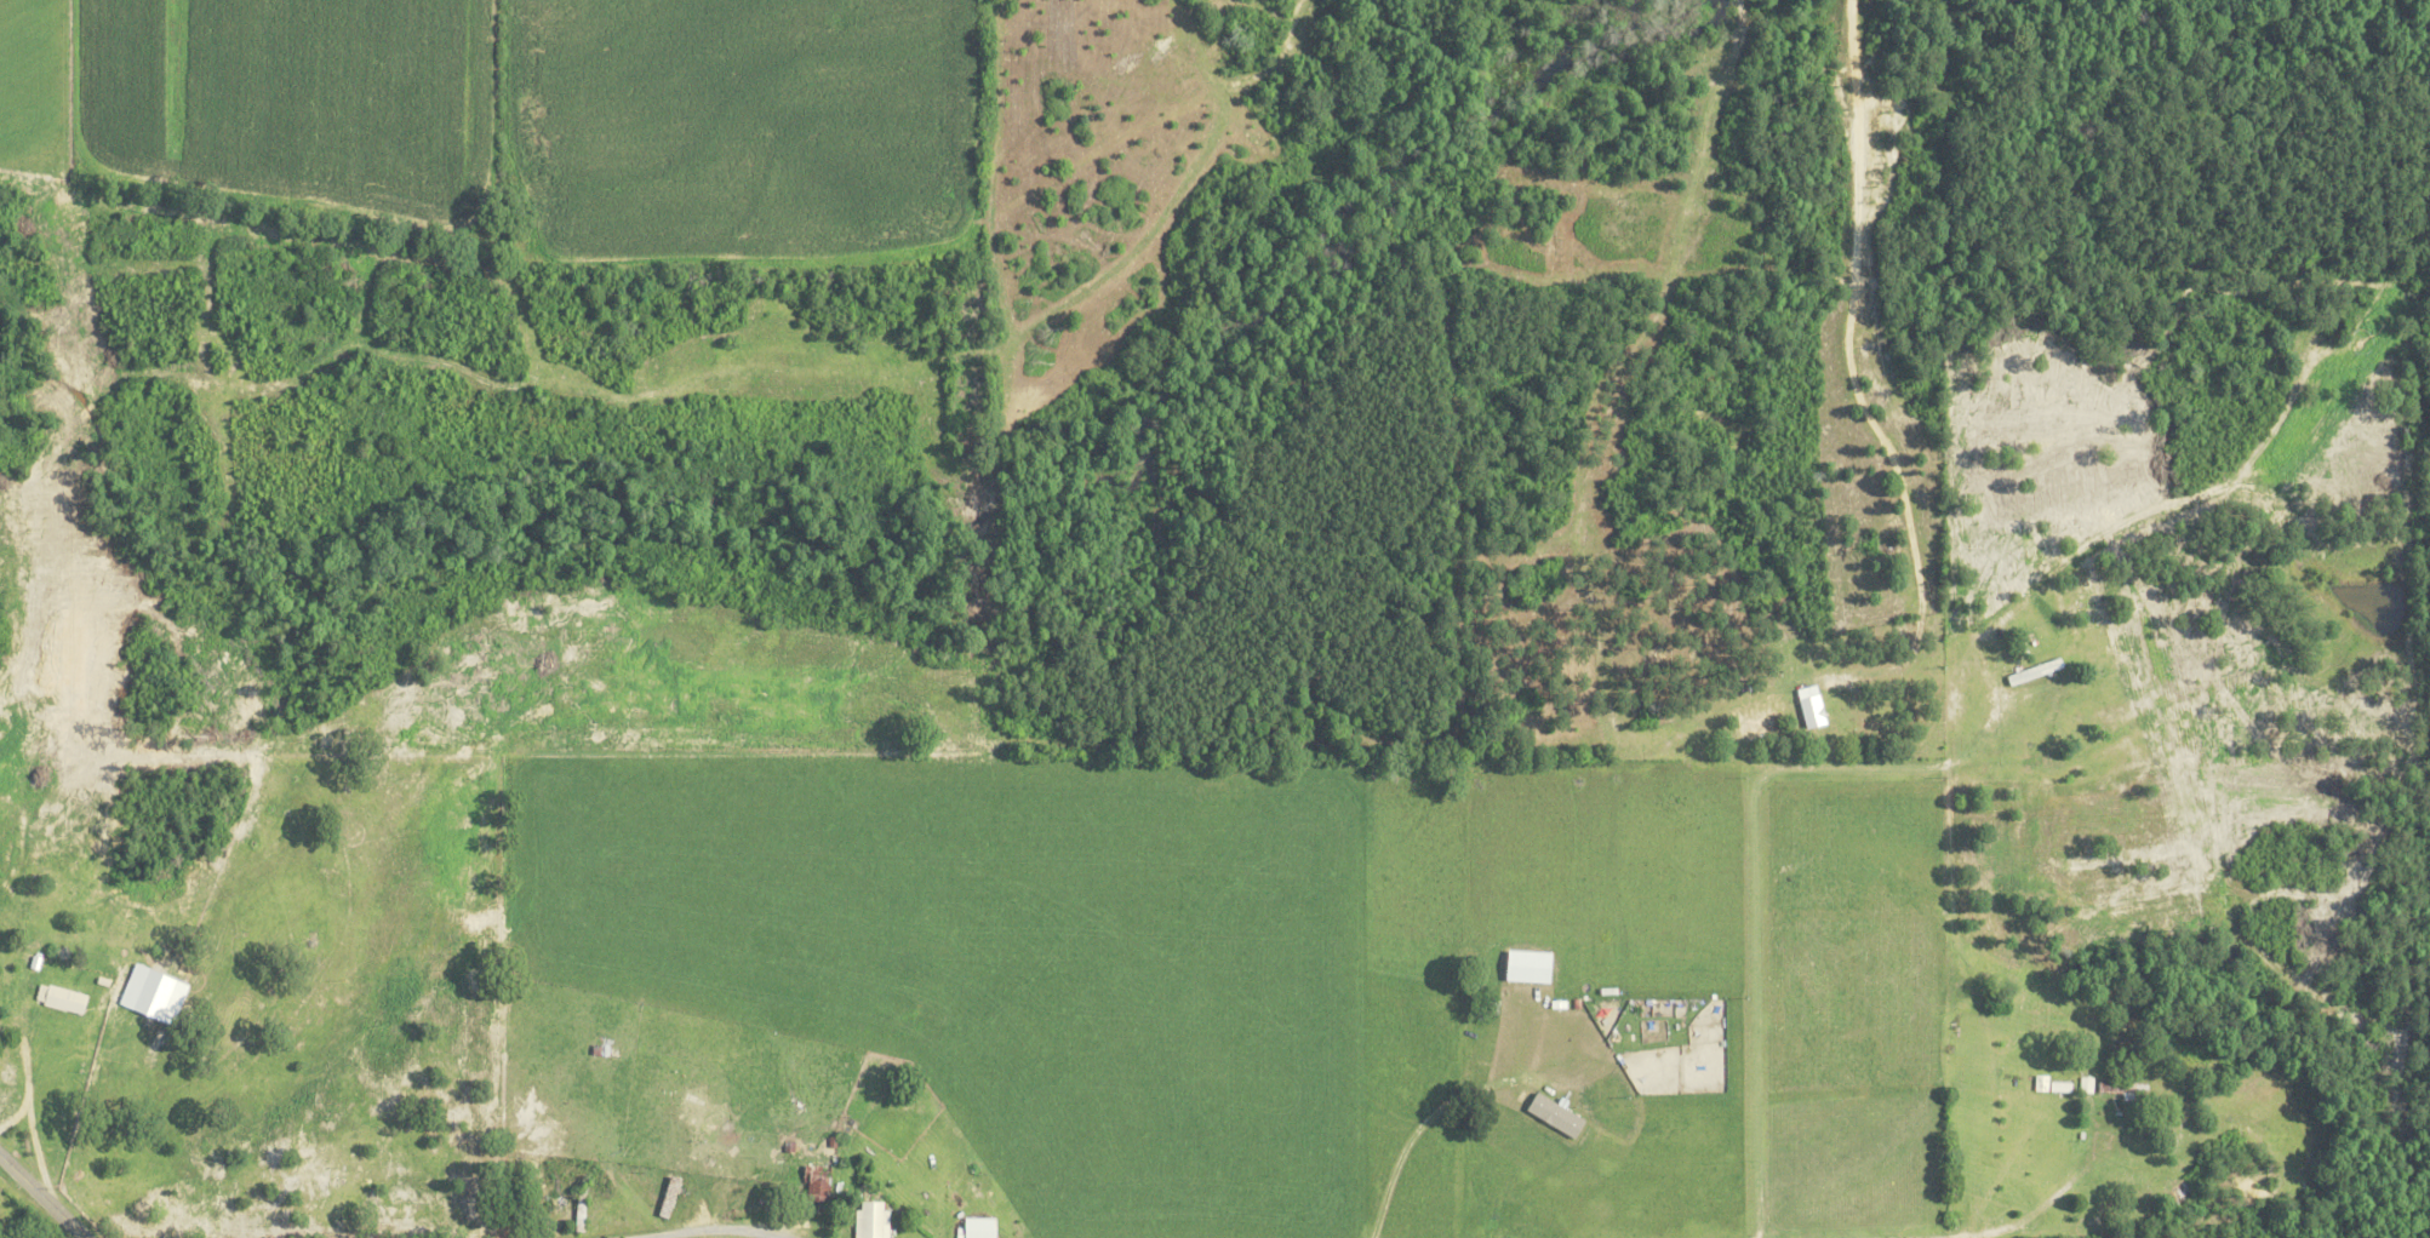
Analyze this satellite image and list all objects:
building: (1808, 711)
building: (57, 998)
building: (1551, 1114)
building: (814, 1183)
road: (40, 1199)
building: (868, 1219)
building: (976, 1227)
road: (668, 1228)
road: (1996, 1231)

